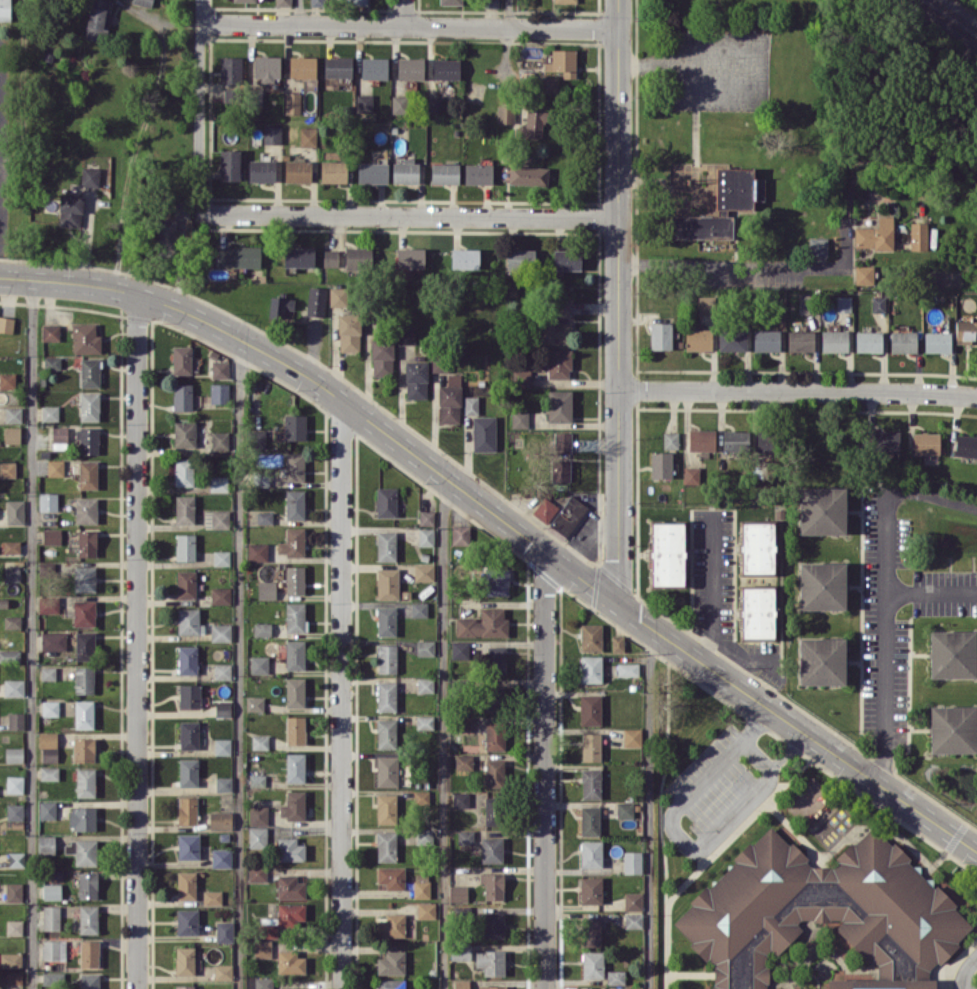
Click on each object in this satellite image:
building: (244, 0)
building: (565, 1)
building: (143, 2)
building: (282, 2)
building: (316, 2)
building: (352, 2)
building: (450, 2)
building: (491, 3)
building: (5, 10)
road: (299, 12)
road: (403, 13)
road: (508, 13)
railway: (956, 14)
building: (97, 18)
road: (23, 21)
railway: (944, 21)
road: (409, 26)
building: (562, 62)
building: (337, 66)
building: (266, 67)
building: (302, 67)
building: (374, 68)
building: (410, 68)
building: (446, 68)
building: (230, 69)
building: (549, 84)
building: (398, 101)
building: (292, 102)
road: (200, 103)
building: (364, 103)
building: (433, 103)
building: (505, 114)
building: (531, 126)
building: (272, 134)
building: (308, 136)
building: (229, 164)
building: (261, 170)
building: (297, 171)
building: (333, 171)
building: (405, 171)
building: (372, 172)
building: (444, 173)
building: (478, 173)
building: (528, 175)
building: (89, 176)
building: (737, 188)
building: (70, 209)
road: (409, 214)
building: (698, 226)
building: (167, 233)
building: (875, 235)
building: (918, 235)
building: (238, 256)
building: (298, 256)
building: (333, 258)
building: (357, 258)
building: (410, 258)
building: (465, 258)
building: (520, 259)
building: (566, 259)
road: (757, 265)
building: (864, 274)
building: (338, 296)
building: (316, 301)
road: (619, 301)
building: (843, 303)
building: (878, 303)
building: (706, 304)
building: (280, 307)
building: (561, 309)
building: (6, 324)
building: (966, 330)
building: (552, 331)
building: (50, 332)
building: (348, 332)
building: (405, 334)
building: (660, 335)
building: (85, 338)
building: (697, 339)
building: (732, 339)
building: (766, 340)
building: (800, 340)
building: (834, 340)
building: (868, 341)
building: (903, 341)
building: (937, 341)
building: (382, 356)
building: (181, 359)
building: (52, 362)
building: (439, 363)
building: (558, 363)
building: (219, 369)
building: (89, 372)
building: (522, 378)
building: (416, 379)
building: (7, 380)
road: (798, 391)
building: (219, 392)
building: (182, 396)
building: (449, 403)
building: (470, 405)
building: (559, 405)
building: (89, 406)
building: (50, 412)
building: (13, 414)
building: (519, 419)
building: (294, 426)
building: (484, 433)
building: (11, 434)
building: (184, 434)
building: (59, 437)
building: (257, 439)
building: (670, 439)
building: (701, 439)
building: (88, 440)
building: (219, 440)
building: (735, 440)
building: (886, 441)
building: (562, 442)
building: (926, 443)
building: (764, 444)
building: (966, 445)
building: (660, 464)
building: (294, 466)
building: (55, 467)
building: (7, 469)
building: (560, 470)
building: (183, 471)
building: (87, 474)
building: (692, 474)
building: (218, 483)
road: (885, 496)
building: (47, 501)
building: (386, 502)
building: (294, 504)
building: (184, 509)
building: (544, 509)
building: (85, 510)
building: (822, 510)
building: (15, 511)
building: (567, 515)
building: (264, 517)
building: (426, 517)
building: (216, 519)
road: (506, 521)
building: (460, 534)
building: (51, 536)
building: (426, 536)
building: (86, 542)
building: (292, 542)
building: (386, 545)
building: (11, 546)
building: (185, 547)
building: (757, 547)
building: (257, 551)
building: (667, 553)
building: (221, 557)
building: (423, 572)
building: (13, 573)
building: (84, 578)
building: (295, 579)
building: (496, 581)
building: (387, 583)
building: (186, 584)
building: (822, 585)
road: (710, 587)
building: (266, 589)
road: (931, 591)
building: (220, 595)
building: (48, 605)
building: (419, 609)
building: (84, 612)
building: (757, 612)
building: (294, 617)
building: (386, 620)
building: (12, 621)
building: (189, 621)
building: (483, 624)
building: (261, 629)
building: (220, 632)
road: (32, 634)
building: (590, 637)
building: (53, 640)
road: (136, 641)
building: (617, 643)
building: (84, 645)
building: (425, 647)
building: (295, 654)
building: (951, 654)
building: (9, 655)
road: (739, 655)
building: (387, 658)
building: (187, 659)
building: (495, 660)
building: (821, 660)
road: (239, 664)
building: (259, 664)
building: (590, 668)
building: (627, 669)
building: (222, 671)
building: (48, 673)
building: (84, 680)
building: (424, 684)
building: (14, 687)
road: (884, 690)
building: (295, 692)
road: (340, 693)
building: (189, 695)
building: (386, 696)
building: (493, 699)
building: (254, 703)
building: (49, 708)
building: (222, 708)
building: (590, 709)
building: (83, 714)
building: (16, 720)
building: (424, 722)
building: (465, 723)
building: (295, 729)
building: (952, 729)
road: (444, 732)
building: (386, 733)
building: (189, 734)
building: (494, 735)
building: (631, 736)
building: (259, 742)
building: (222, 746)
building: (590, 746)
building: (48, 747)
building: (83, 749)
building: (14, 754)
building: (463, 761)
building: (295, 767)
road: (543, 769)
building: (387, 770)
building: (188, 772)
building: (494, 772)
building: (49, 773)
building: (257, 780)
building: (85, 782)
building: (223, 783)
building: (591, 783)
building: (14, 784)
building: (421, 797)
building: (460, 799)
building: (293, 805)
road: (649, 807)
building: (386, 808)
building: (47, 809)
building: (624, 809)
building: (187, 810)
building: (14, 811)
building: (493, 811)
building: (257, 815)
building: (82, 817)
building: (220, 820)
building: (589, 820)
building: (424, 835)
building: (257, 836)
building: (465, 836)
road: (681, 837)
building: (46, 844)
building: (188, 846)
building: (386, 846)
building: (290, 849)
building: (491, 849)
building: (82, 851)
building: (591, 853)
building: (221, 857)
building: (16, 859)
building: (632, 861)
building: (257, 872)
building: (391, 877)
building: (87, 885)
building: (186, 885)
building: (421, 885)
building: (493, 885)
building: (290, 887)
building: (590, 890)
building: (51, 891)
building: (13, 892)
building: (458, 893)
building: (212, 897)
building: (633, 900)
building: (425, 910)
building: (51, 917)
building: (88, 919)
building: (283, 919)
building: (822, 919)
building: (633, 920)
building: (186, 921)
building: (492, 924)
building: (391, 925)
building: (14, 927)
building: (224, 931)
building: (591, 931)
building: (262, 948)
building: (53, 950)
building: (460, 951)
building: (89, 953)
building: (10, 959)
building: (184, 960)
building: (491, 961)
building: (290, 962)
building: (391, 963)
building: (592, 964)
building: (222, 971)
road: (965, 972)
building: (615, 976)
building: (52, 977)
building: (10, 978)
building: (89, 981)
building: (263, 982)
building: (390, 983)
building: (461, 984)
building: (184, 987)
building: (491, 987)
building: (290, 988)
building: (633, 988)

